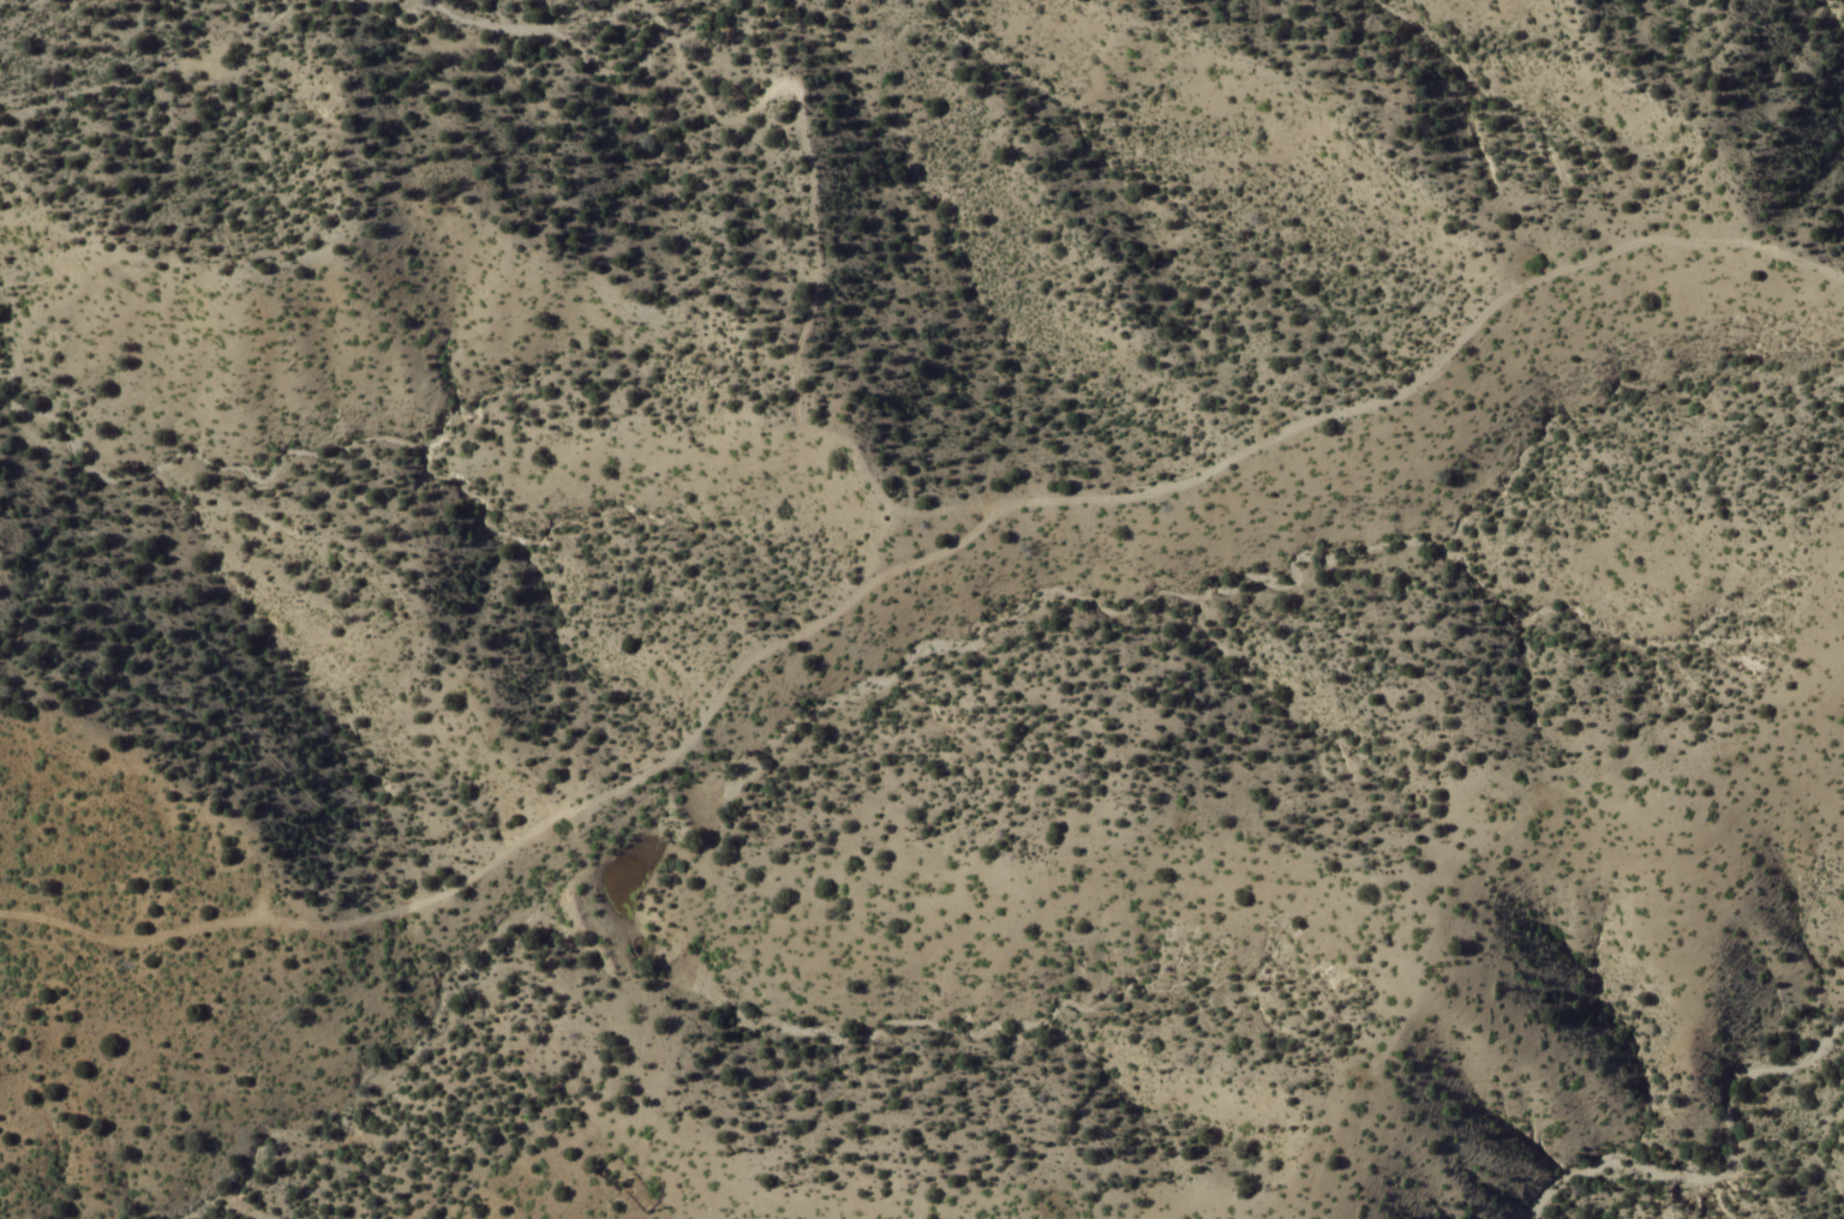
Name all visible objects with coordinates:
road: (834, 542)
road: (1677, 937)
road: (24, 1212)

